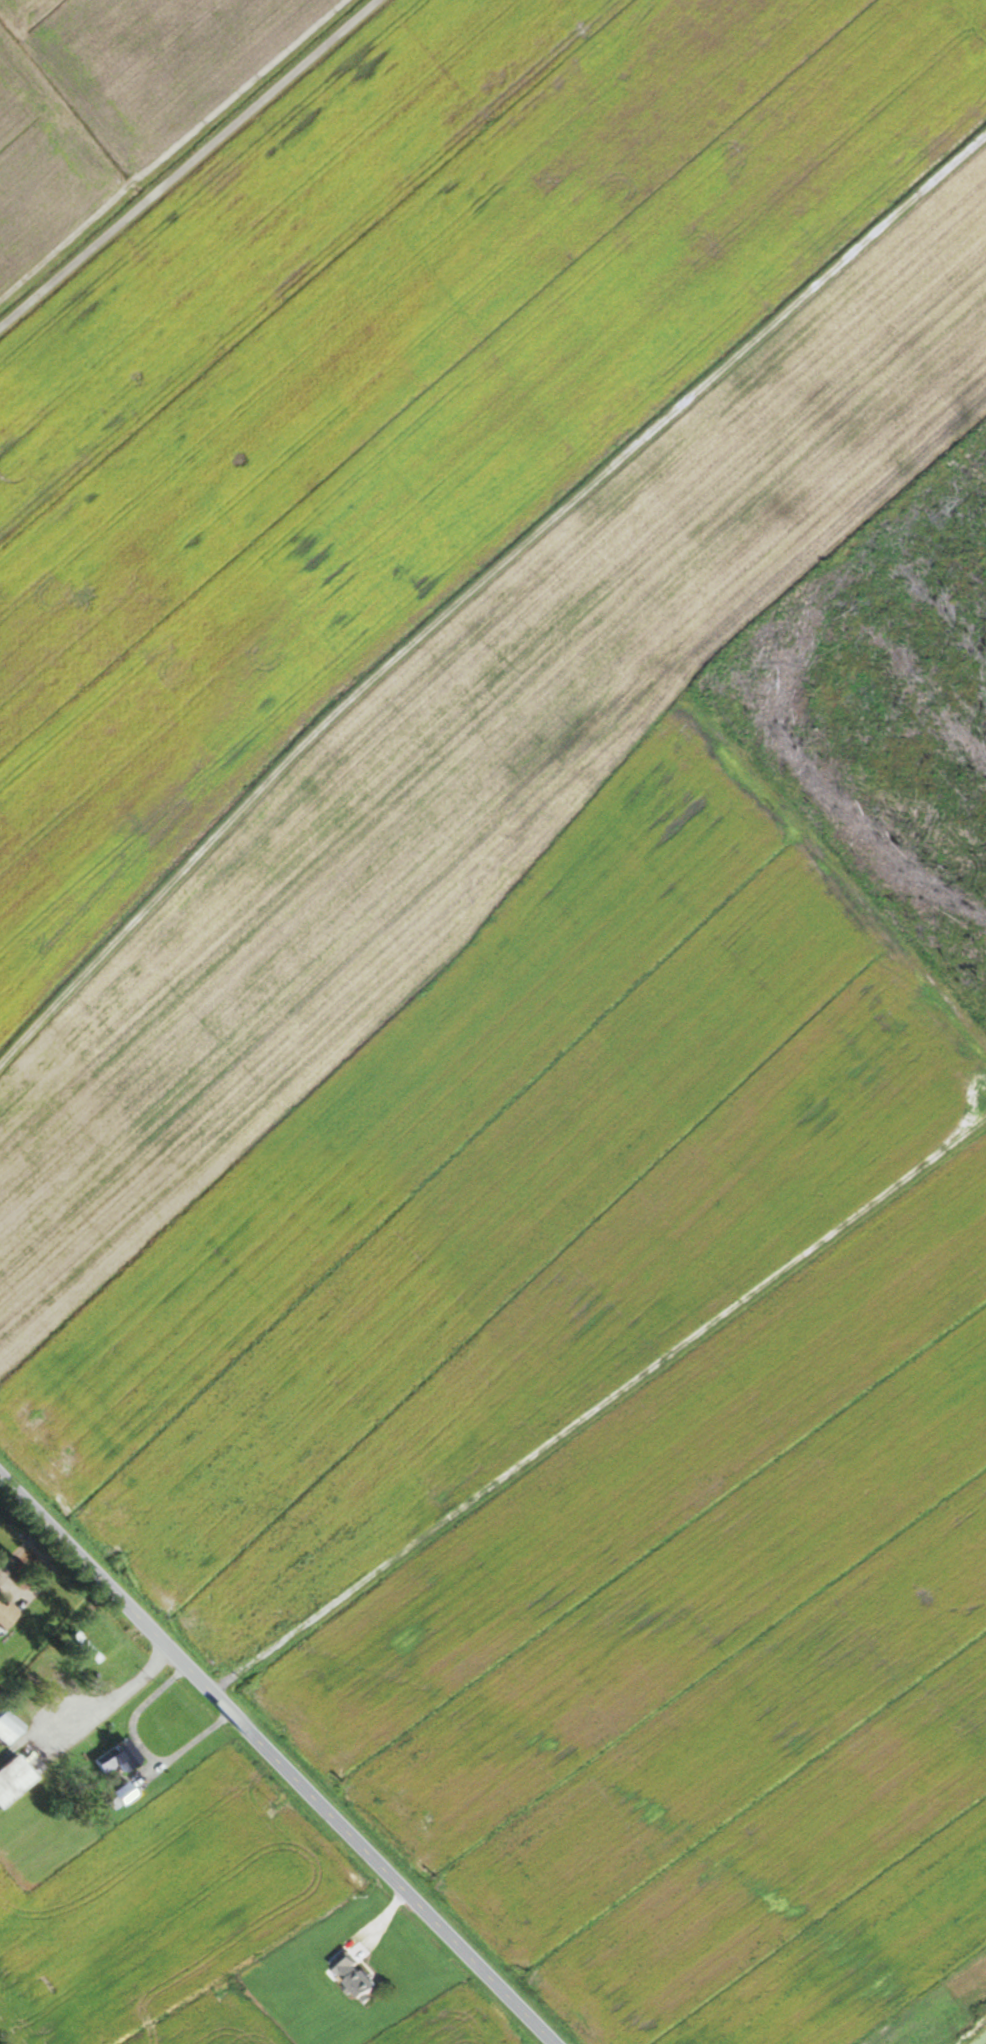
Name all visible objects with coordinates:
road: (188, 163)
road: (479, 584)
road: (9, 1588)
building: (4, 1612)
building: (82, 1647)
road: (111, 1698)
building: (7, 1728)
road: (141, 1751)
building: (113, 1756)
road: (274, 1762)
building: (12, 1777)
building: (122, 1793)
building: (351, 1974)

